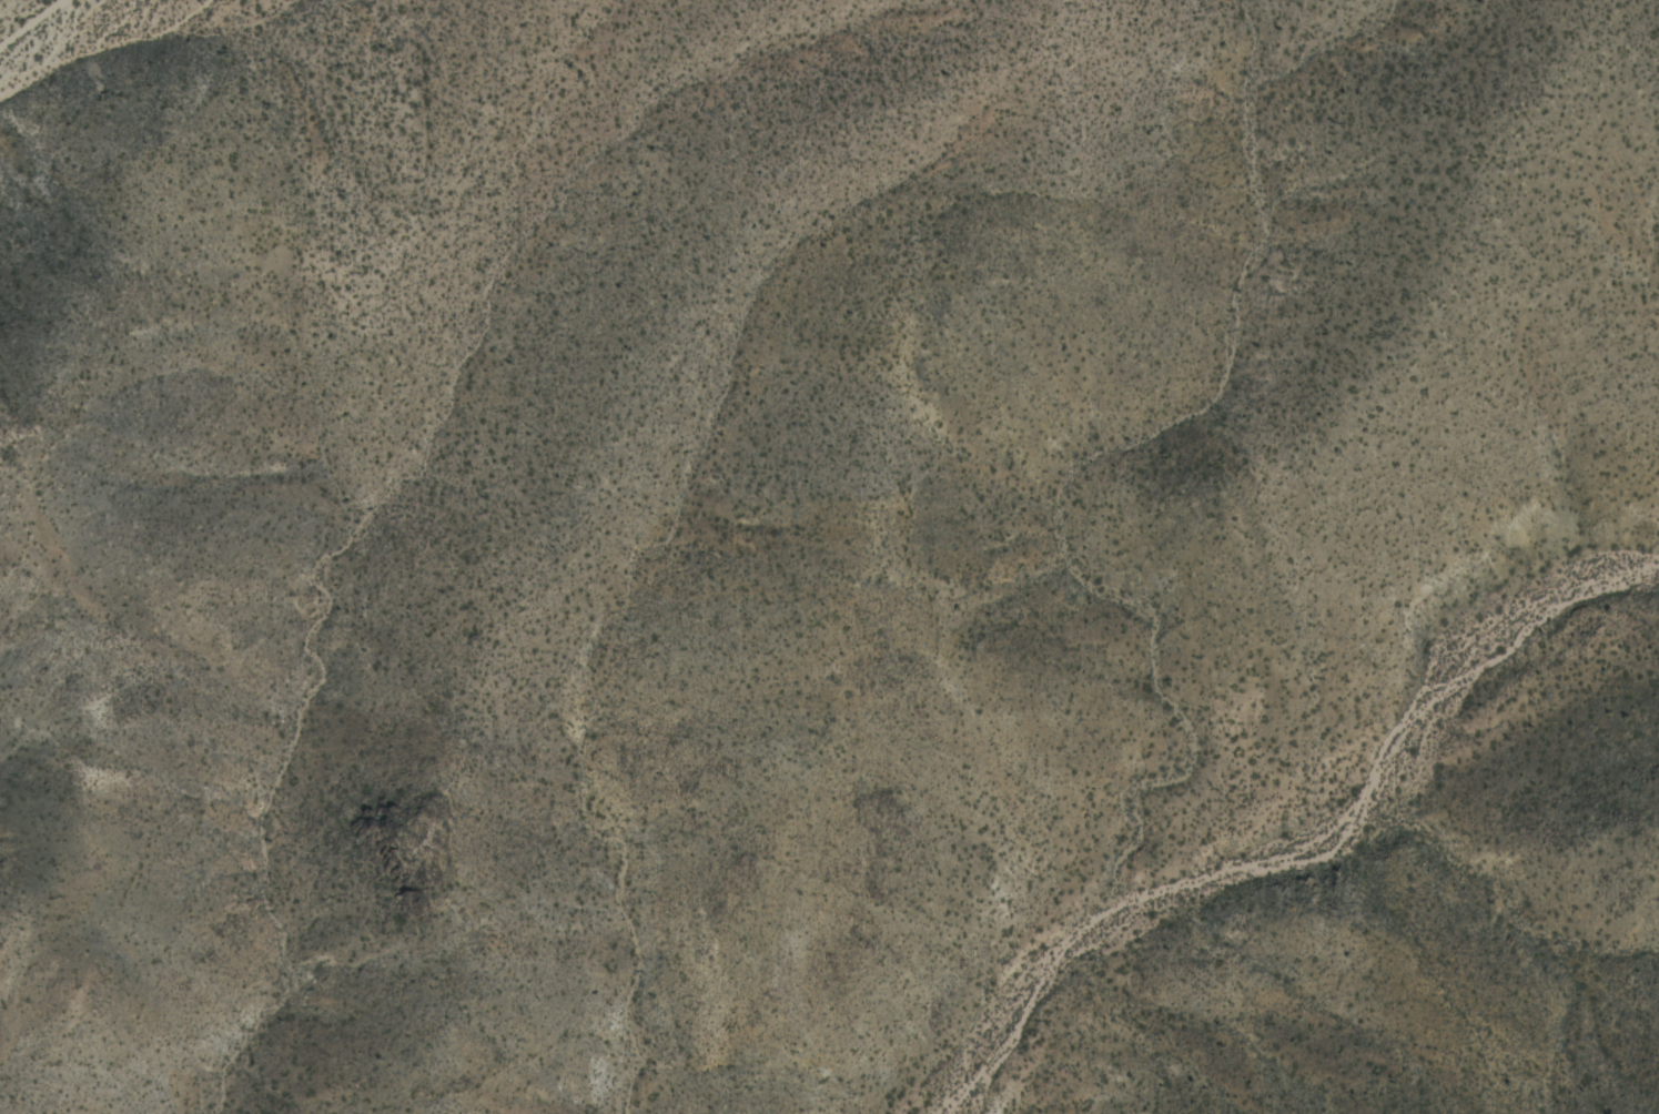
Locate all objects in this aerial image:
road: (10, 4)

